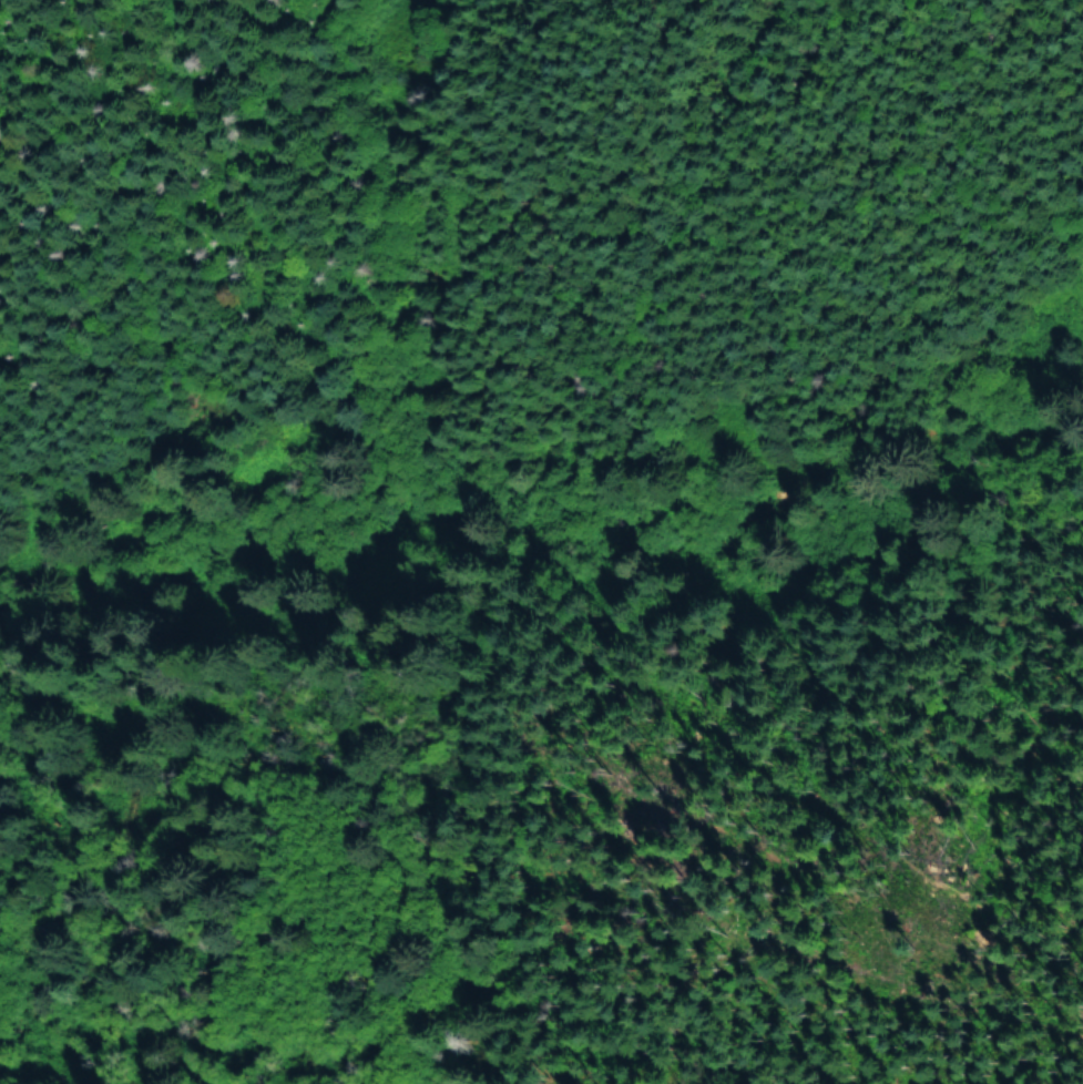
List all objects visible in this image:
road: (1003, 991)

